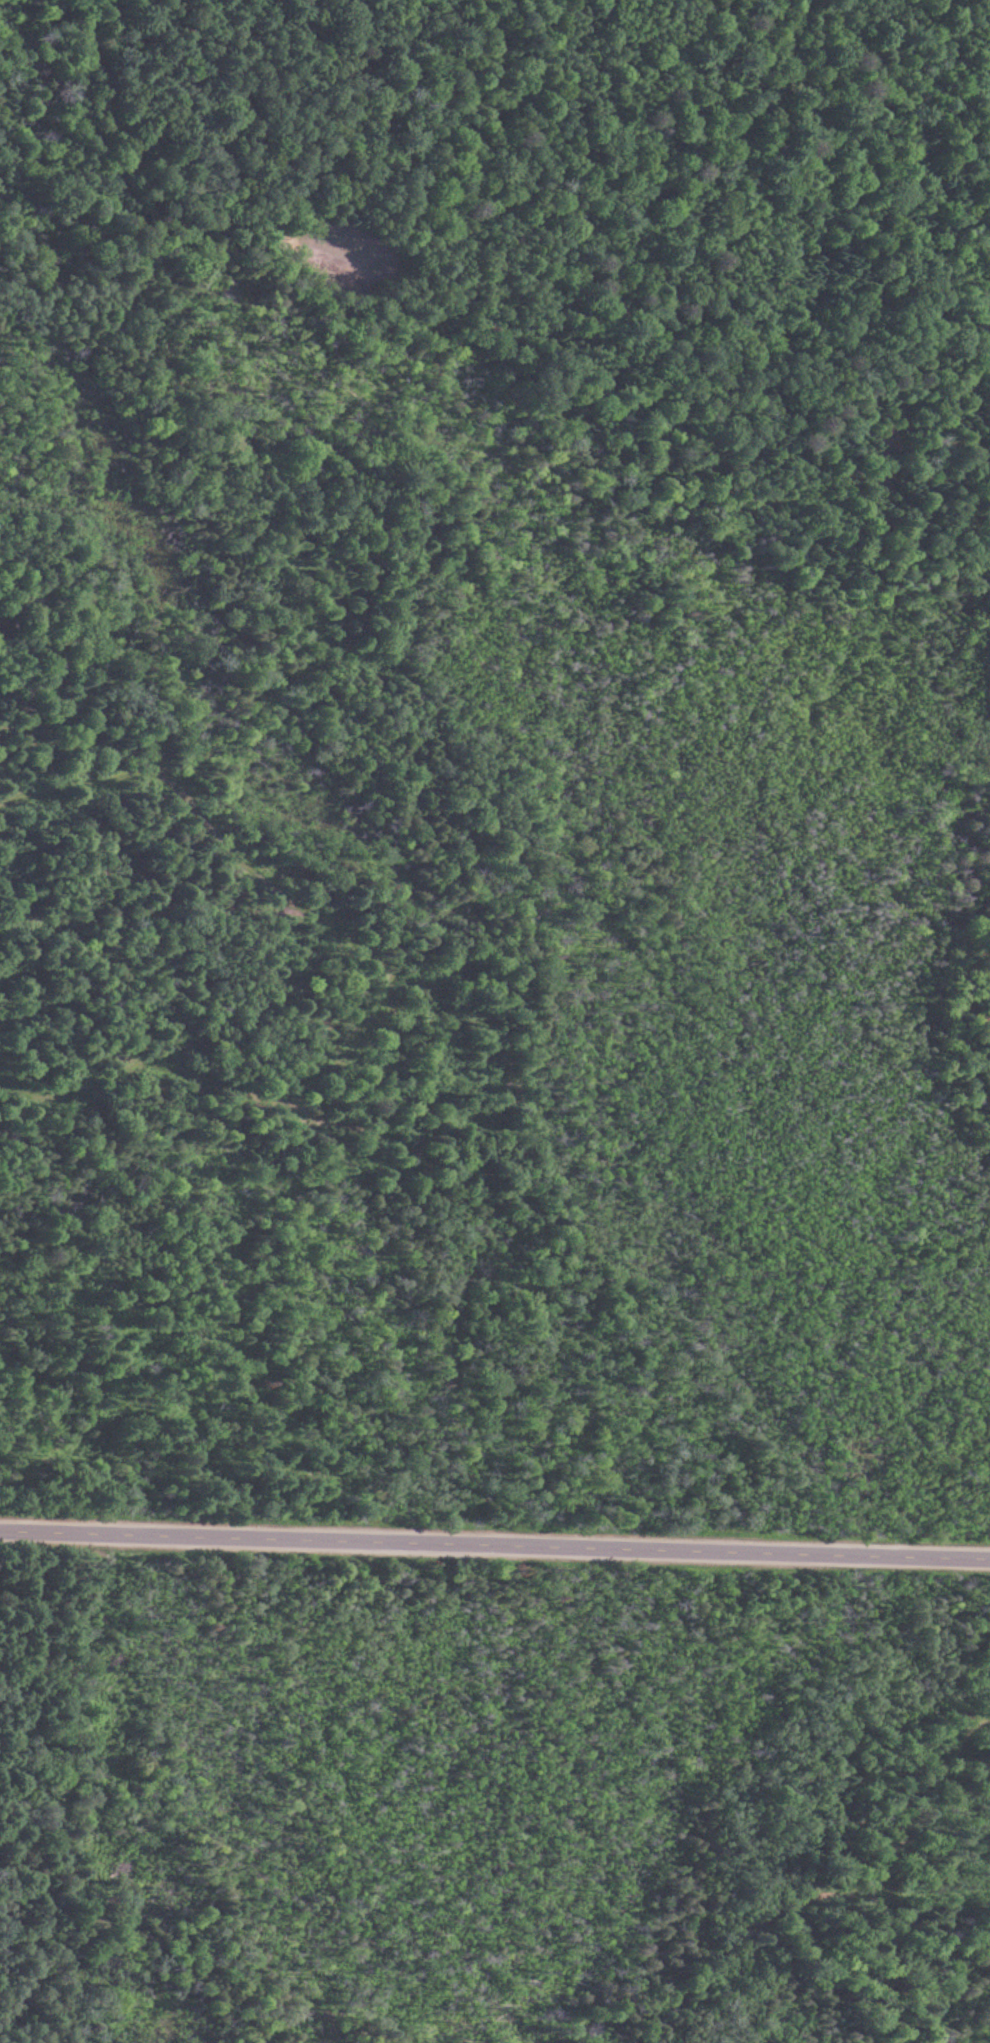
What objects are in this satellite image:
road: (495, 1542)

